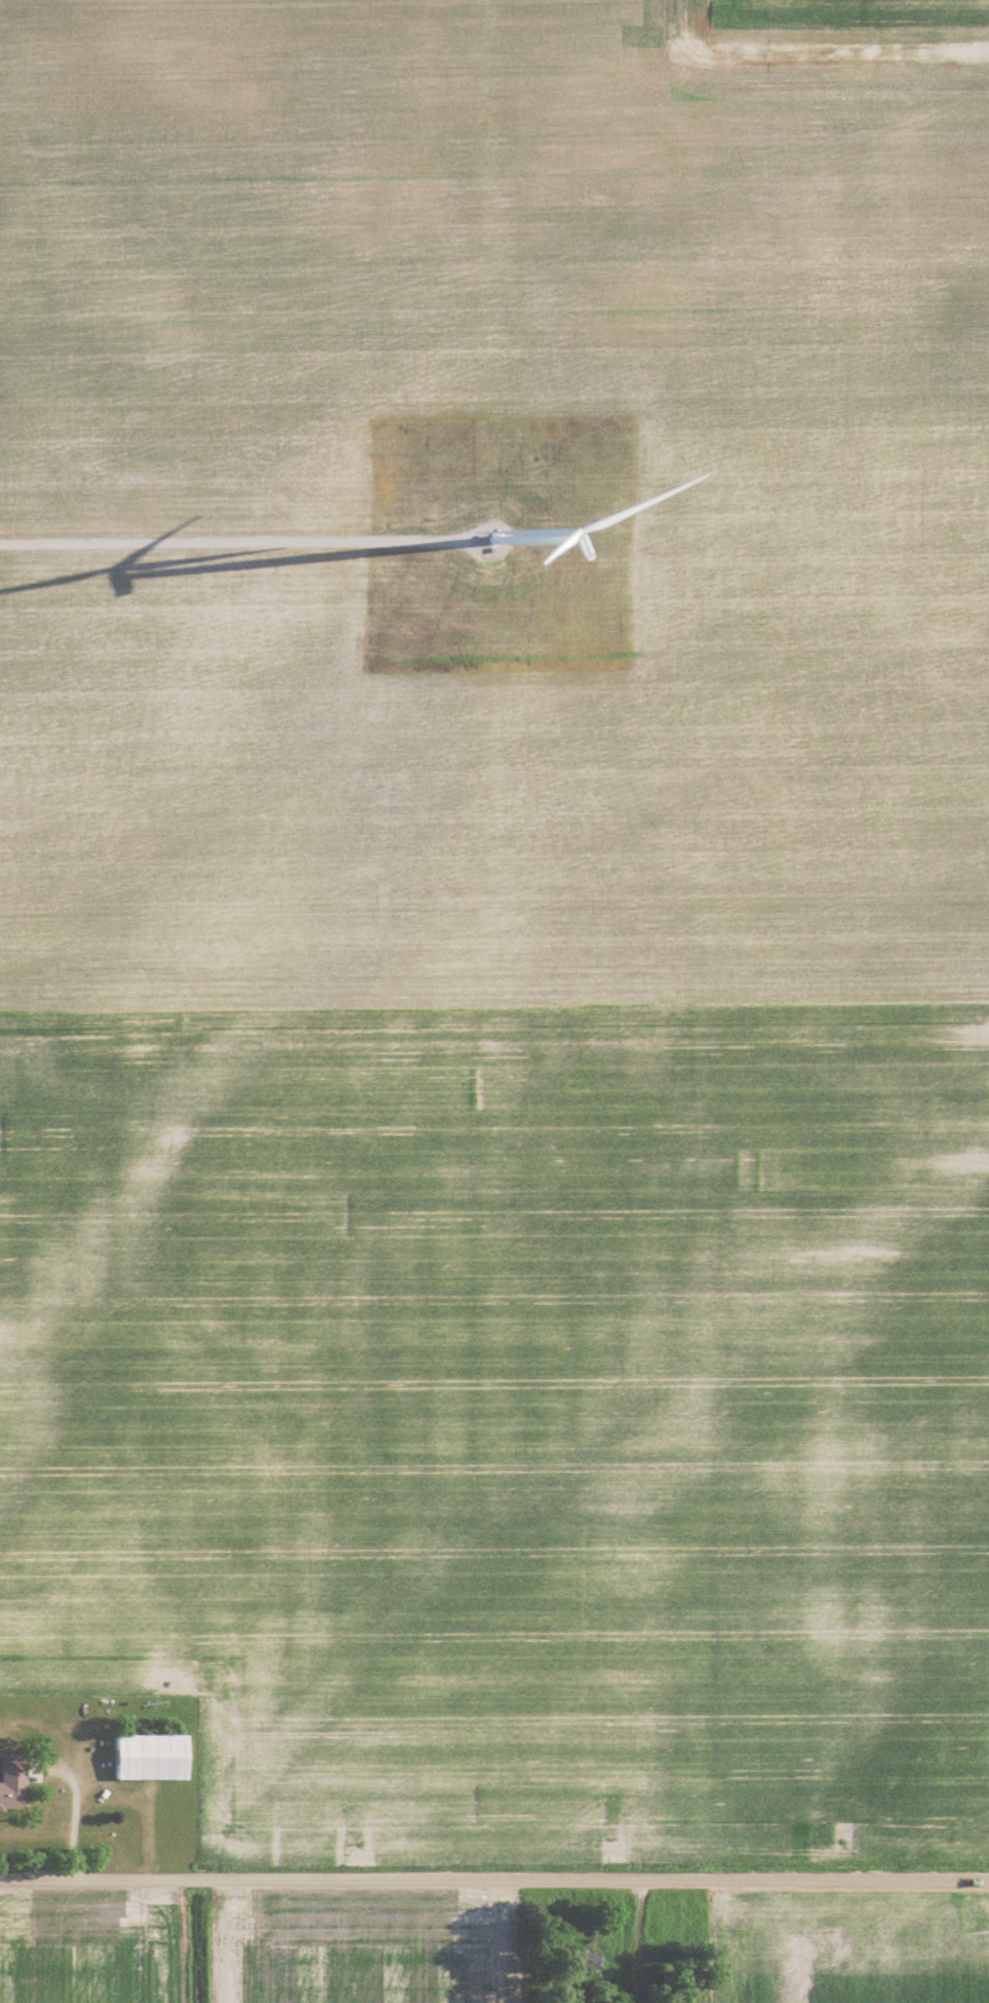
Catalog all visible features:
wind turbine: (496, 536)
road: (189, 546)
building: (153, 1757)
road: (840, 1760)
building: (15, 1782)
road: (494, 1879)

